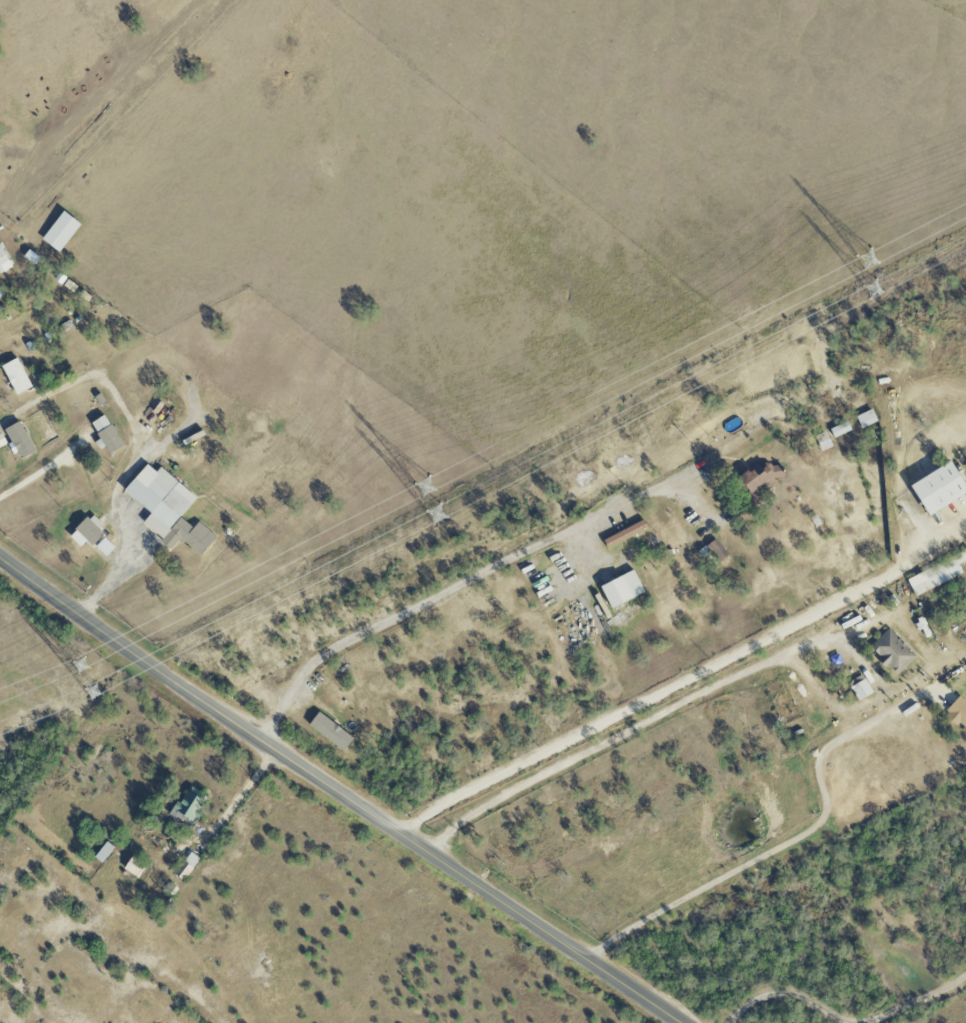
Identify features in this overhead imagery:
building: (61, 231)
building: (4, 260)
power tower: (874, 260)
power tower: (877, 288)
building: (1, 293)
building: (17, 376)
building: (868, 417)
building: (842, 428)
building: (108, 434)
building: (2, 440)
building: (20, 440)
road: (136, 449)
road: (43, 472)
building: (762, 477)
building: (941, 486)
power tower: (431, 487)
building: (169, 508)
power tower: (440, 513)
building: (92, 530)
building: (937, 574)
road: (456, 587)
building: (624, 588)
road: (874, 621)
building: (894, 651)
power tower: (86, 665)
road: (674, 688)
building: (862, 689)
power tower: (98, 691)
building: (959, 711)
road: (656, 716)
building: (333, 730)
road: (337, 792)
building: (189, 806)
road: (231, 810)
road: (792, 844)
building: (105, 852)
building: (188, 865)
building: (136, 866)
road: (785, 997)
road: (919, 1003)

